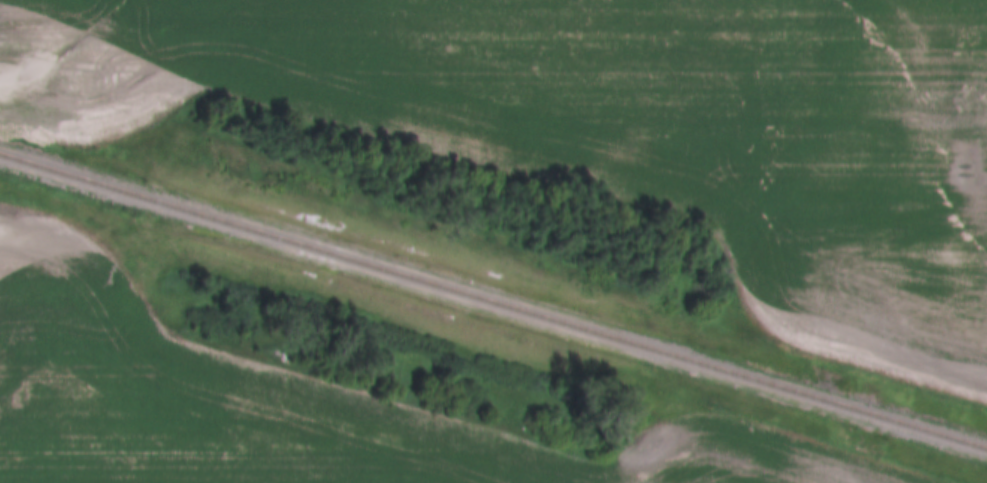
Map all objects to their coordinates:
railway: (493, 303)

